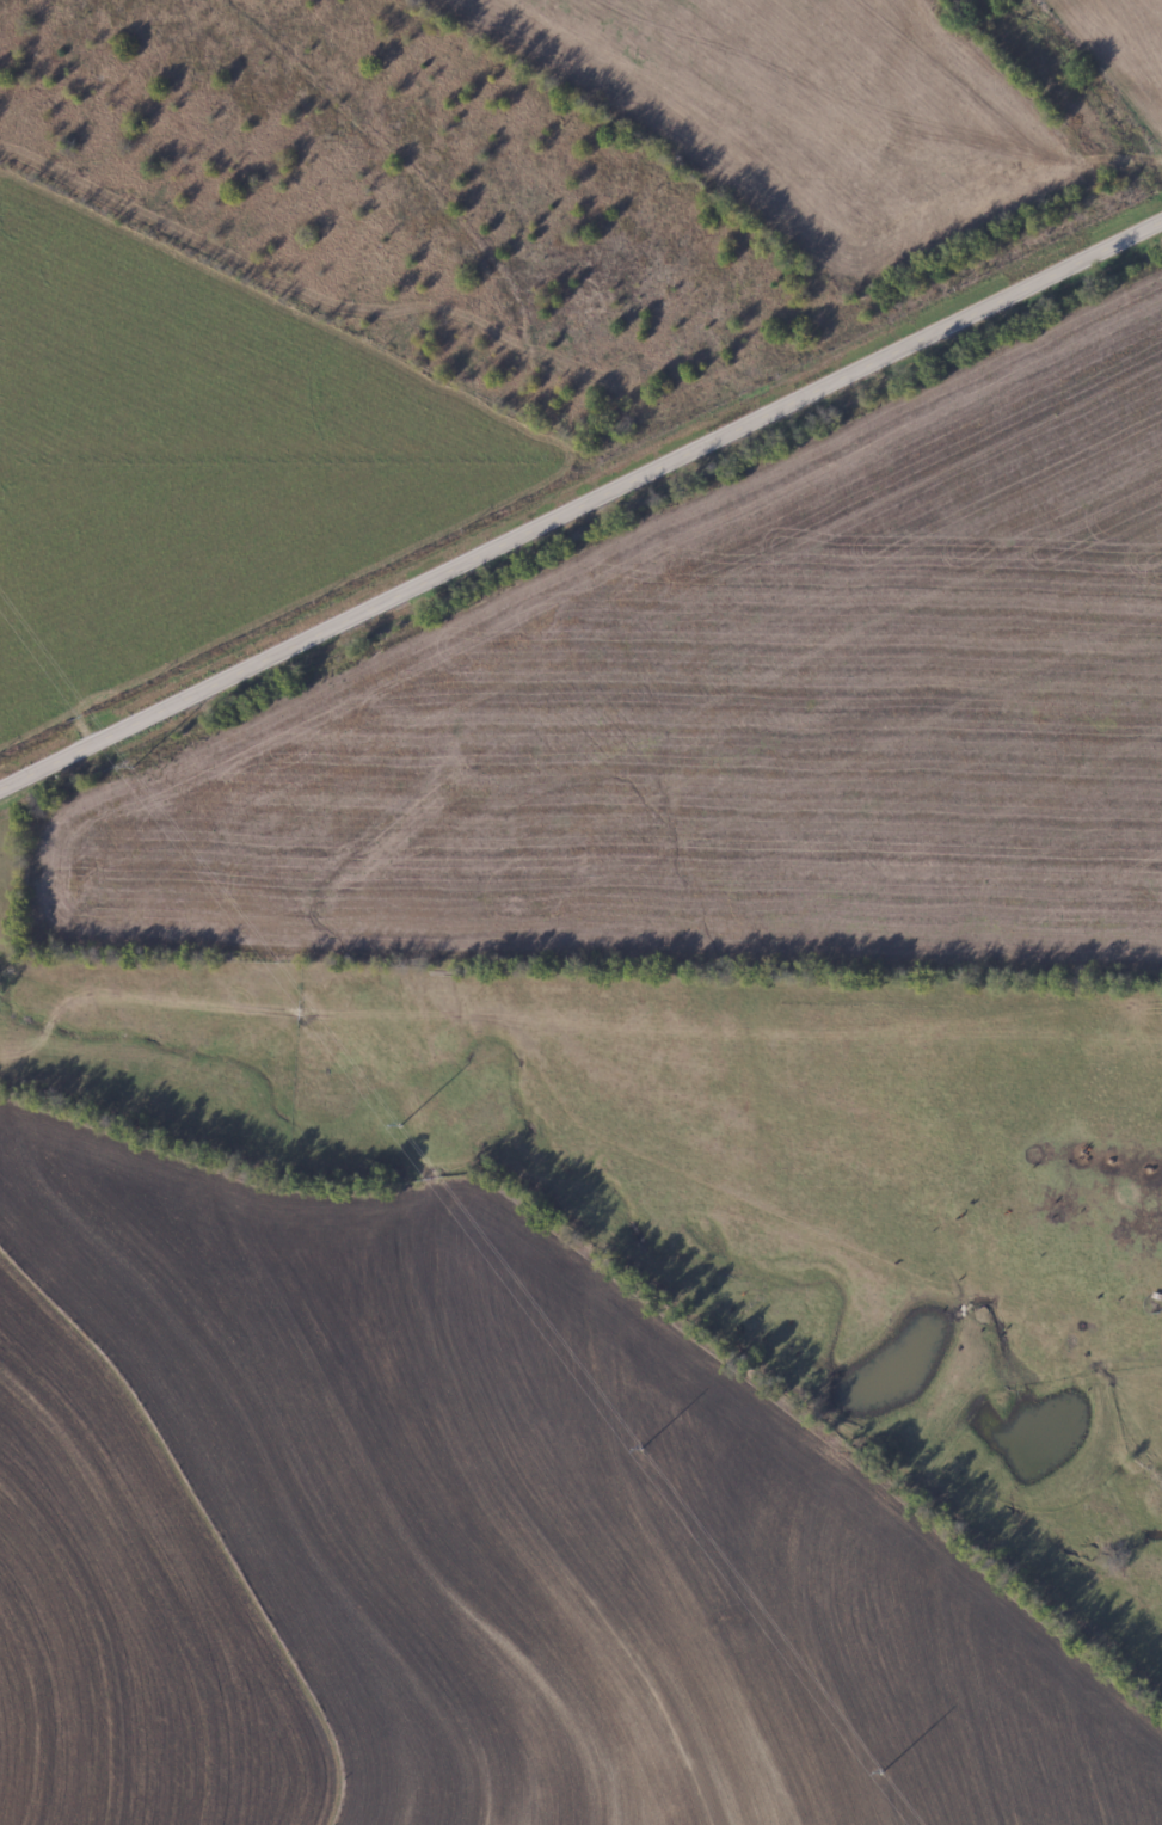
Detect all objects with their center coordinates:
road: (580, 508)

